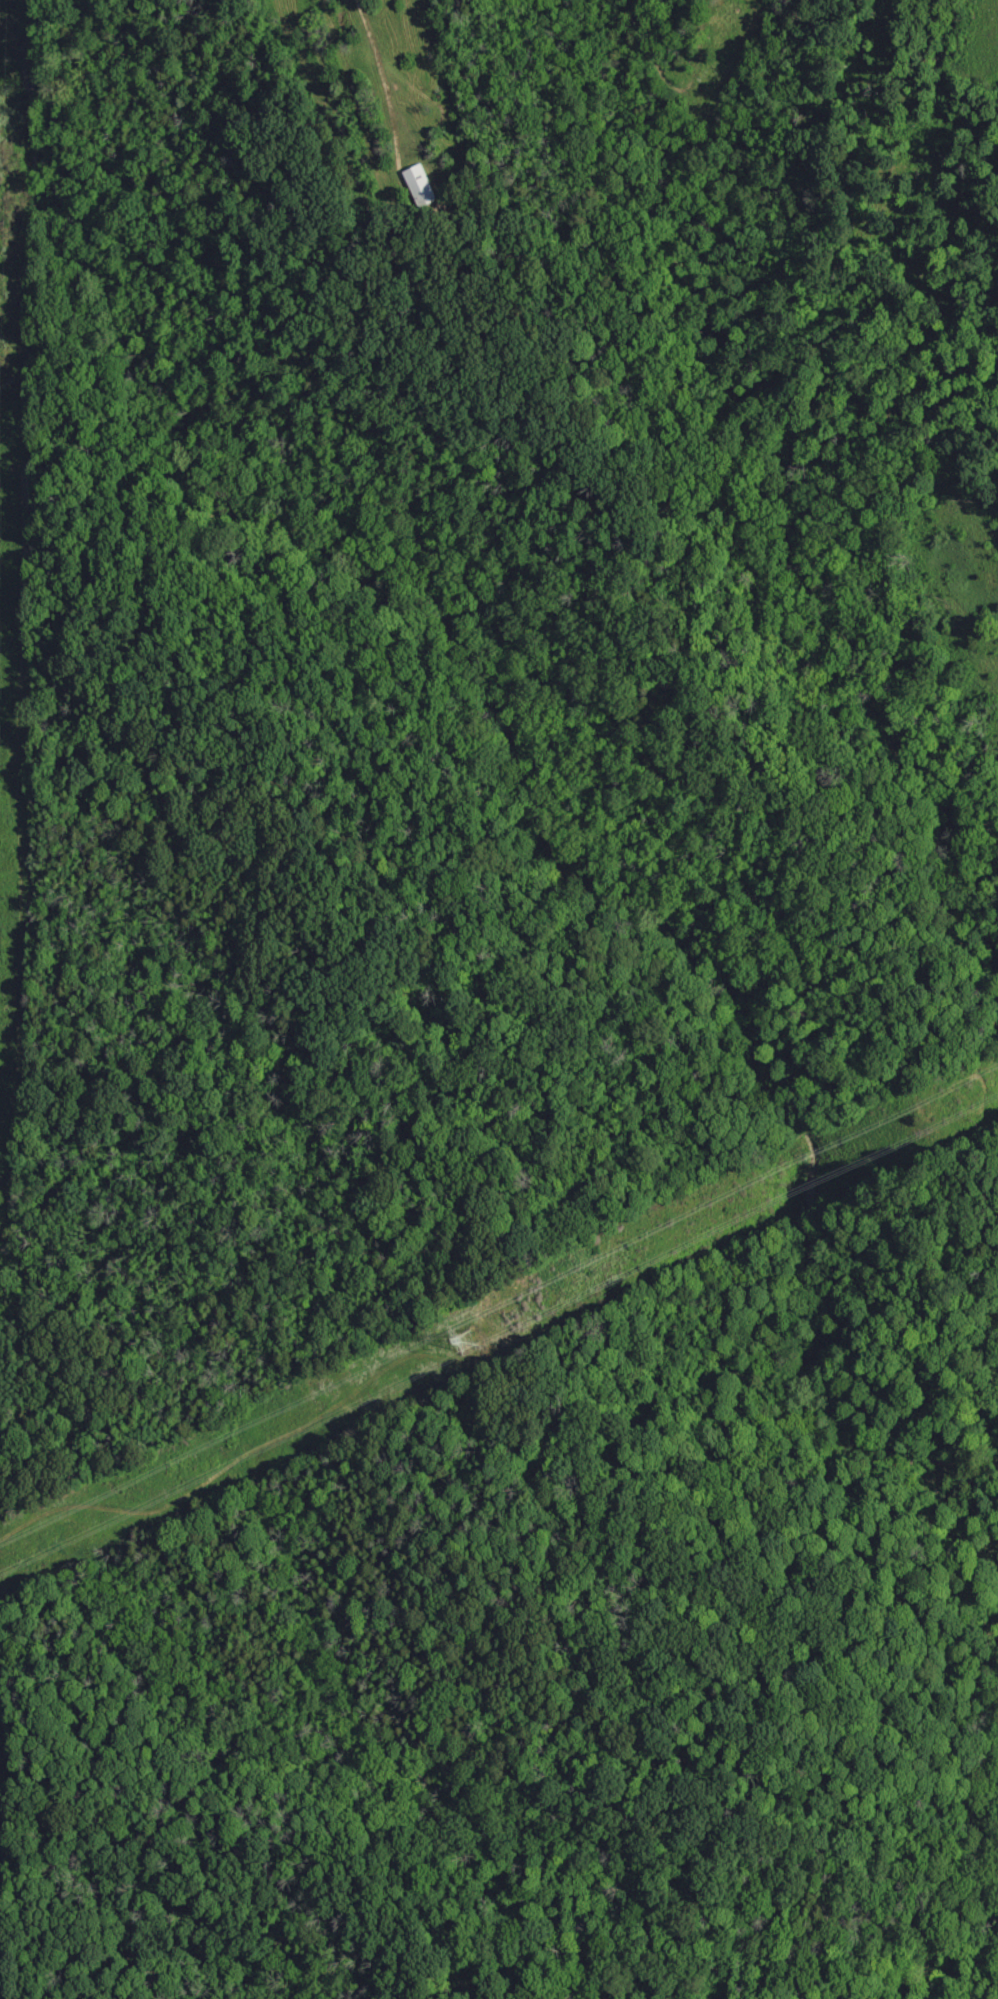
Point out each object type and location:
building: (422, 186)
power tower: (463, 1338)

